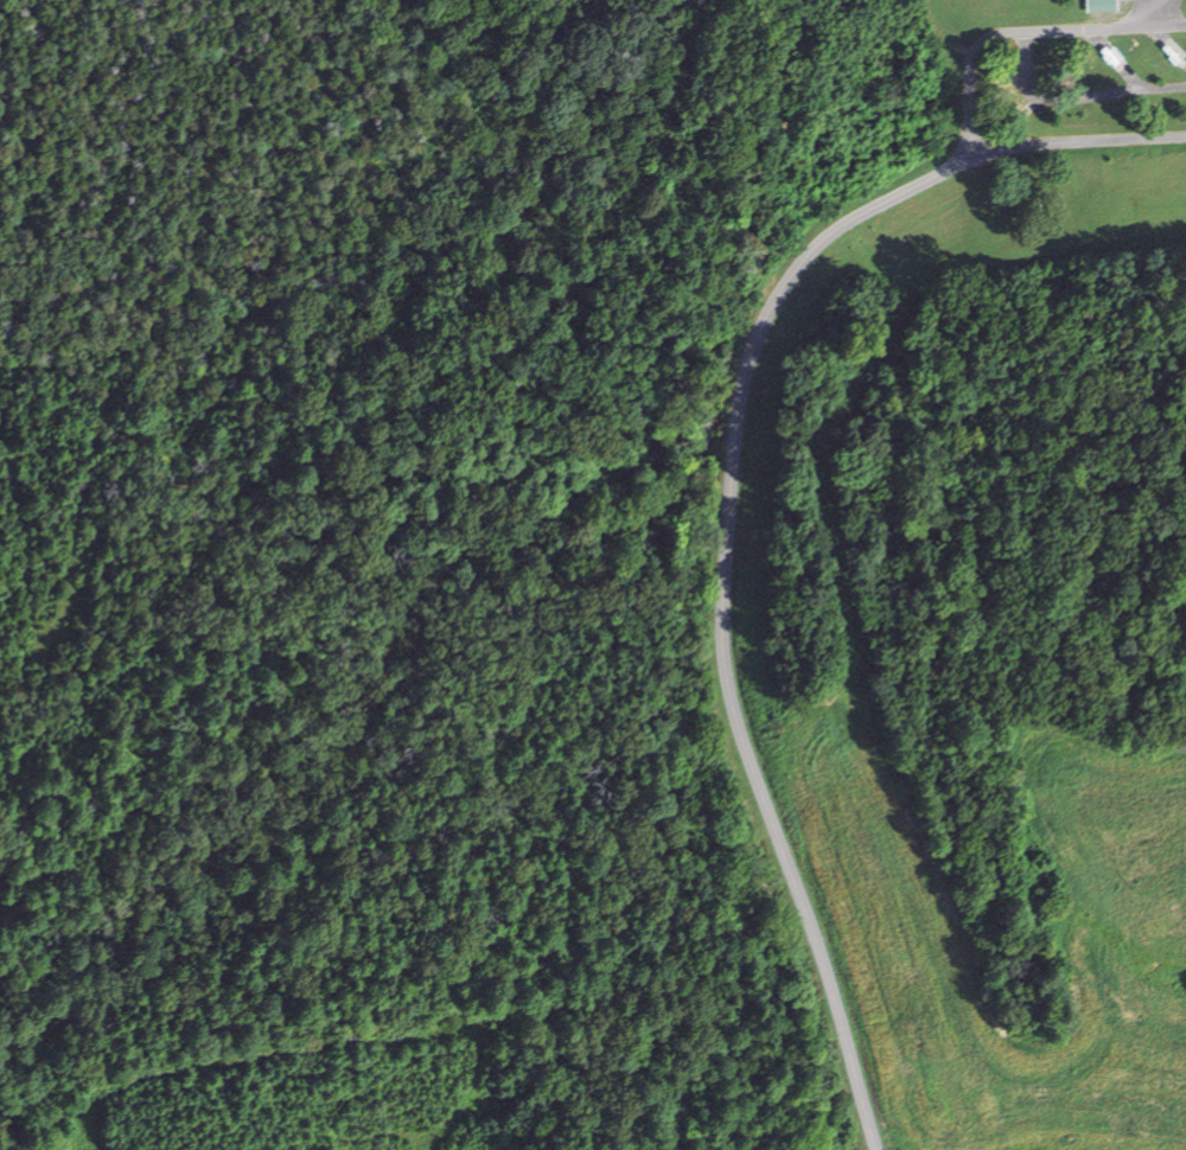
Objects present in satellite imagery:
road: (1158, 13)
road: (1022, 32)
road: (1077, 95)
park: (980, 135)
road: (1075, 142)
road: (727, 611)

